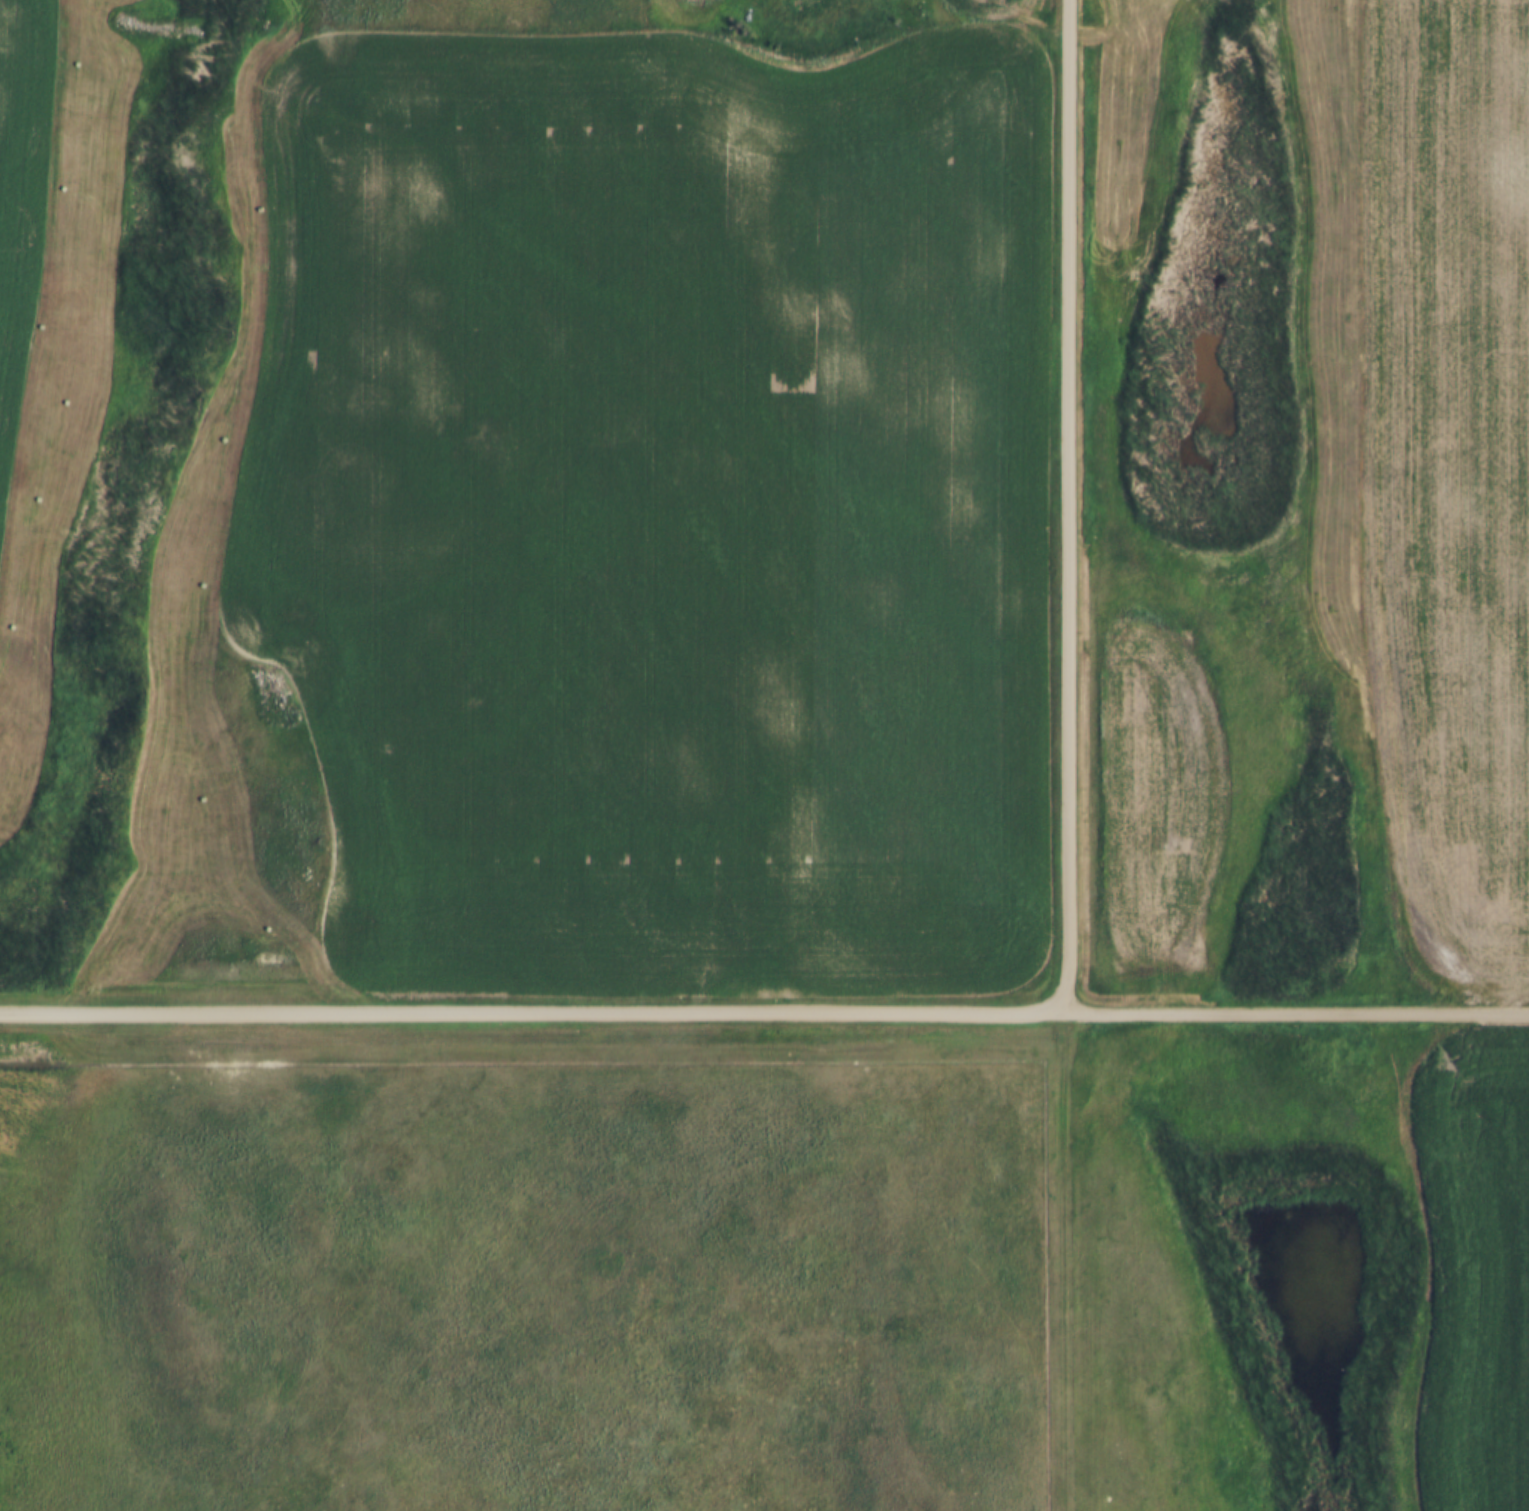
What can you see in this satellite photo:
road: (1064, 506)
road: (531, 1012)
road: (1296, 1012)
road: (1063, 1261)

